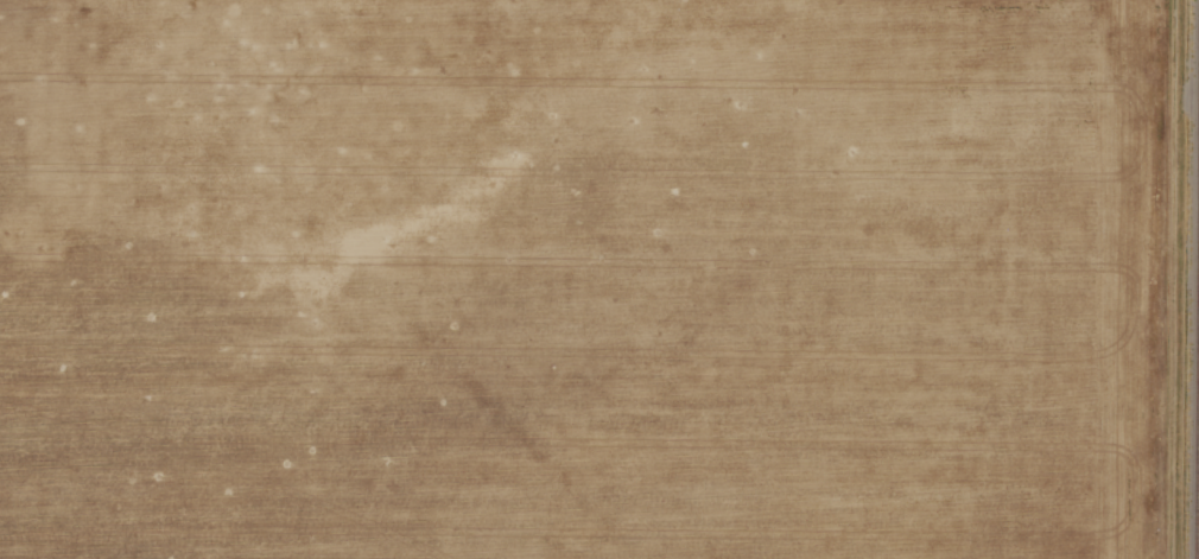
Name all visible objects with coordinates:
railway: (1197, 329)

